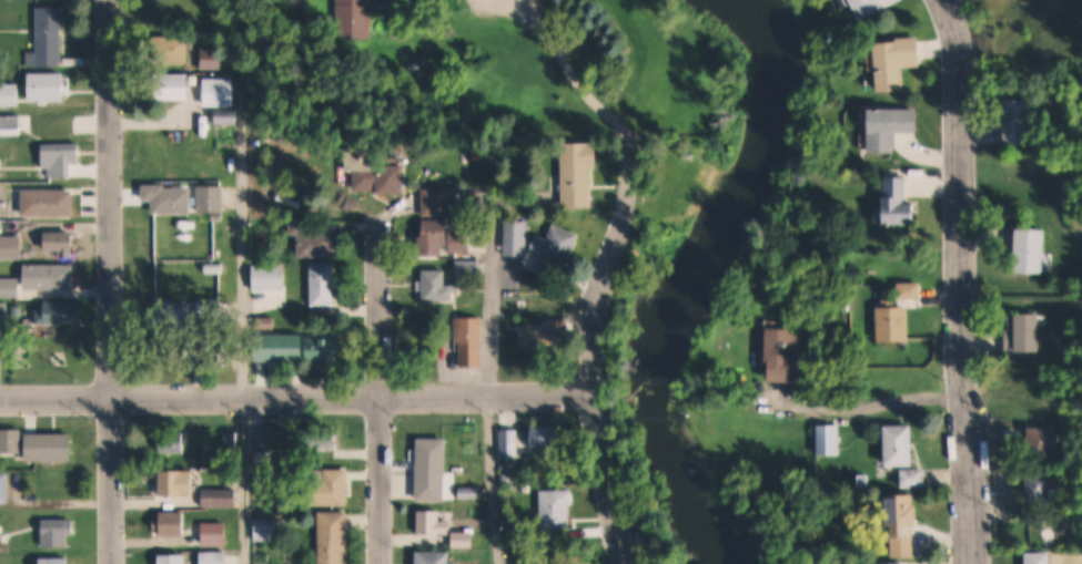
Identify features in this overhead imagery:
building: (867, 7)
building: (356, 17)
building: (48, 37)
building: (172, 49)
building: (211, 57)
building: (891, 61)
building: (413, 65)
road: (574, 71)
building: (47, 85)
building: (174, 85)
building: (220, 92)
building: (10, 94)
building: (227, 115)
building: (861, 116)
building: (55, 121)
building: (1007, 122)
building: (11, 124)
building: (888, 125)
building: (225, 132)
building: (59, 158)
building: (377, 170)
building: (579, 172)
building: (170, 198)
building: (213, 198)
building: (898, 202)
building: (49, 203)
building: (435, 203)
building: (435, 237)
building: (517, 237)
building: (315, 239)
building: (462, 242)
building: (558, 242)
building: (62, 243)
building: (12, 247)
building: (1023, 250)
building: (468, 267)
building: (51, 276)
building: (271, 276)
river: (687, 277)
road: (957, 280)
road: (111, 281)
building: (325, 284)
building: (436, 286)
building: (10, 287)
building: (908, 290)
building: (293, 304)
building: (216, 309)
building: (60, 311)
building: (171, 316)
building: (3, 318)
building: (892, 322)
building: (758, 334)
building: (1018, 334)
building: (543, 338)
building: (469, 340)
building: (327, 345)
building: (292, 347)
road: (593, 347)
building: (786, 355)
road: (493, 377)
road: (245, 390)
road: (381, 391)
road: (296, 397)
road: (864, 412)
building: (547, 435)
building: (259, 437)
building: (321, 438)
building: (12, 439)
building: (827, 440)
building: (1035, 440)
building: (233, 441)
building: (174, 442)
building: (508, 443)
building: (897, 445)
building: (51, 448)
building: (264, 457)
building: (432, 469)
building: (911, 478)
building: (180, 483)
building: (4, 486)
building: (1034, 488)
building: (332, 489)
building: (468, 492)
building: (222, 498)
building: (556, 507)
building: (433, 523)
building: (173, 524)
building: (902, 524)
building: (266, 530)
building: (59, 532)
building: (211, 532)
building: (334, 536)
building: (463, 539)
building: (215, 557)
building: (435, 557)
building: (529, 557)
building: (1030, 557)
building: (174, 558)
building: (578, 558)
building: (57, 560)
building: (892, 563)

